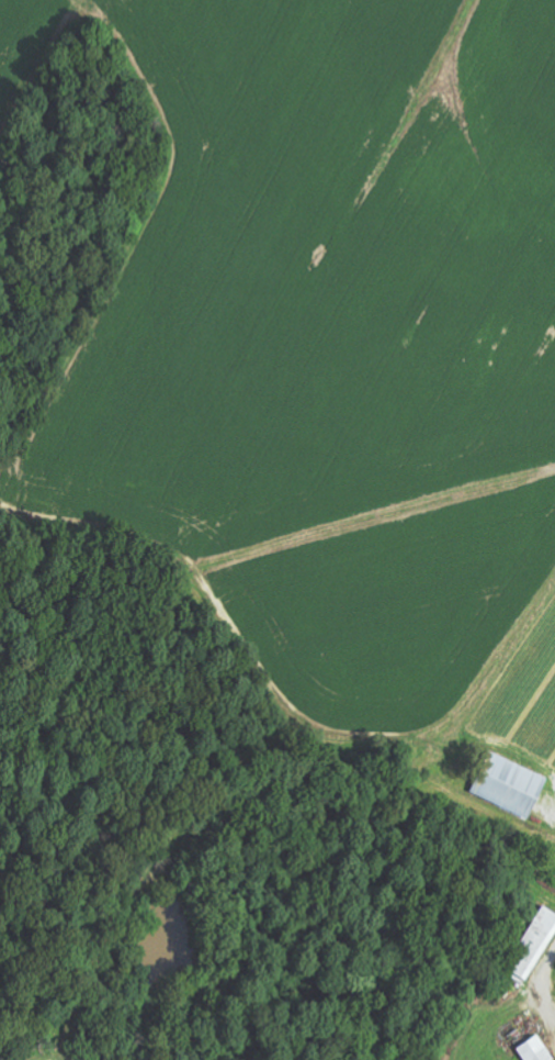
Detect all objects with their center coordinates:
building: (508, 784)
building: (535, 945)
building: (534, 1050)

